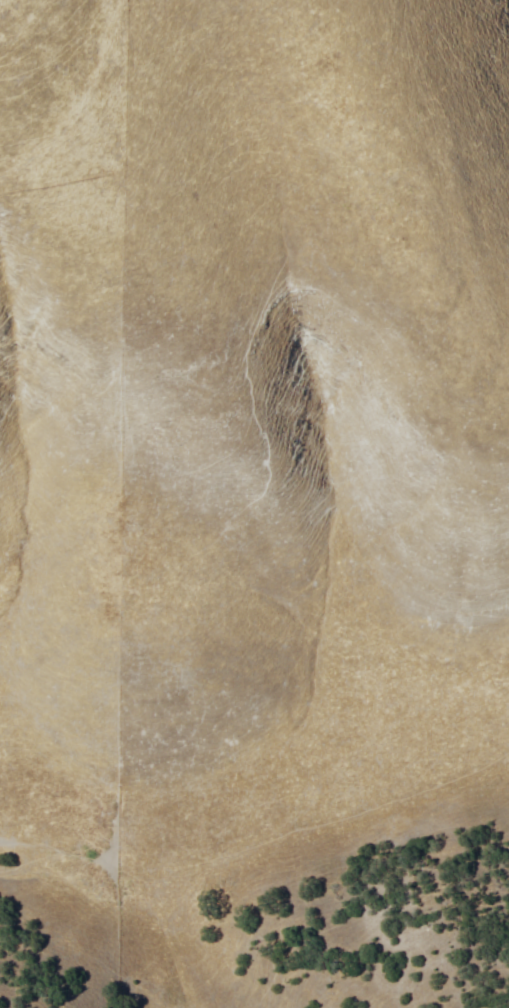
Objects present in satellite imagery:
road: (64, 868)

